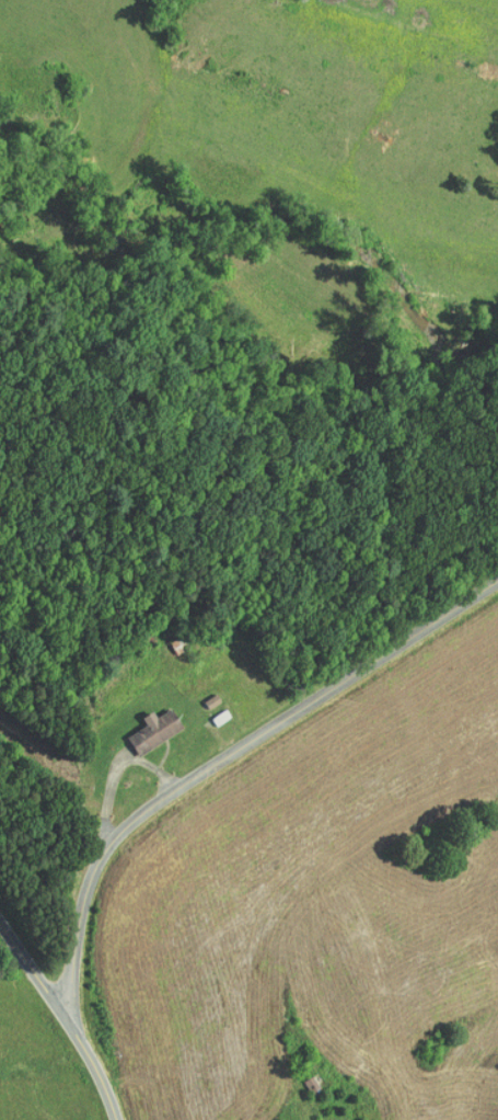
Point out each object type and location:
building: (142, 723)
road: (228, 757)
road: (59, 1015)
building: (299, 1077)

